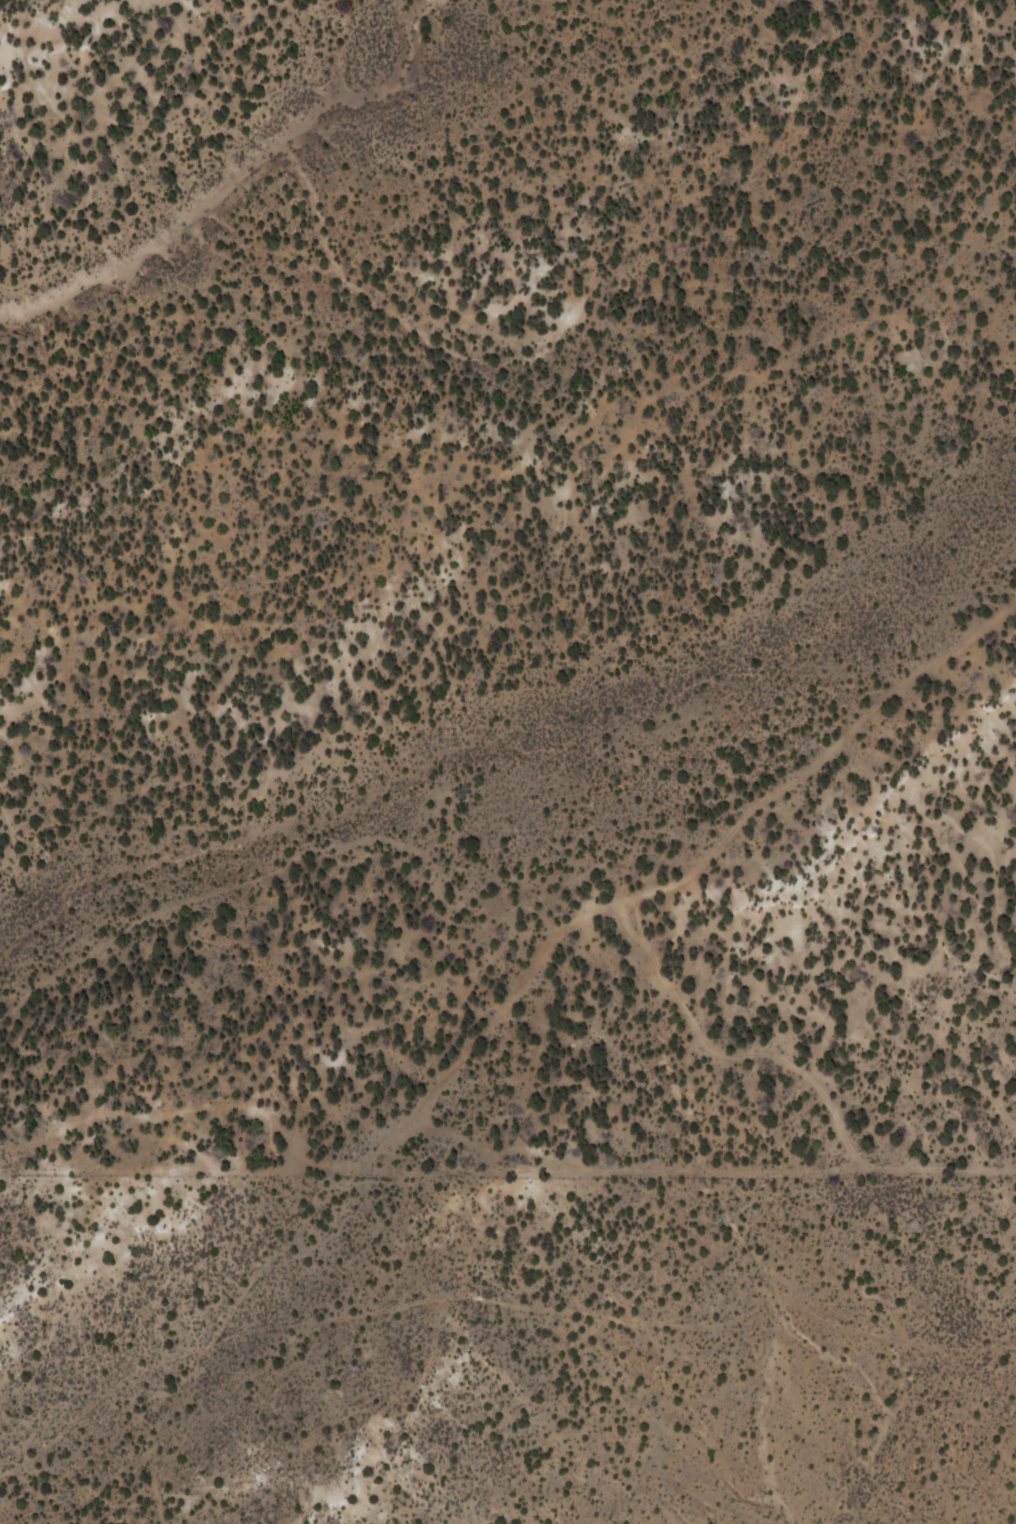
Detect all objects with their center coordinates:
road: (508, 1003)

